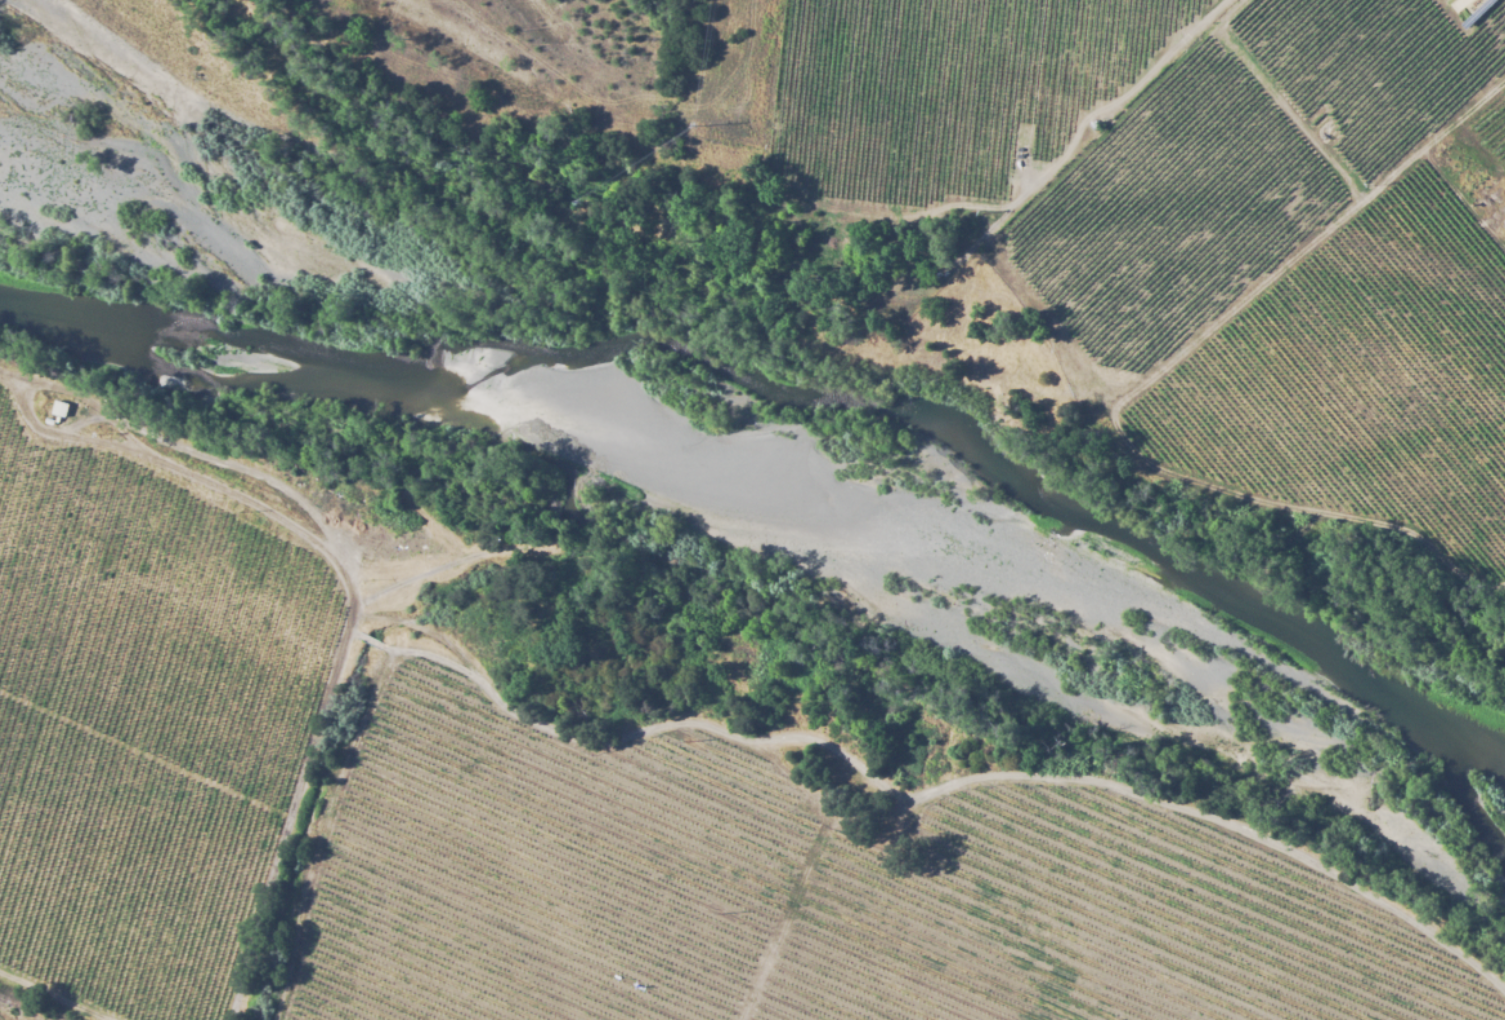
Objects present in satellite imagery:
road: (720, 87)
river: (827, 403)
road: (344, 597)
railway: (23, 1009)

